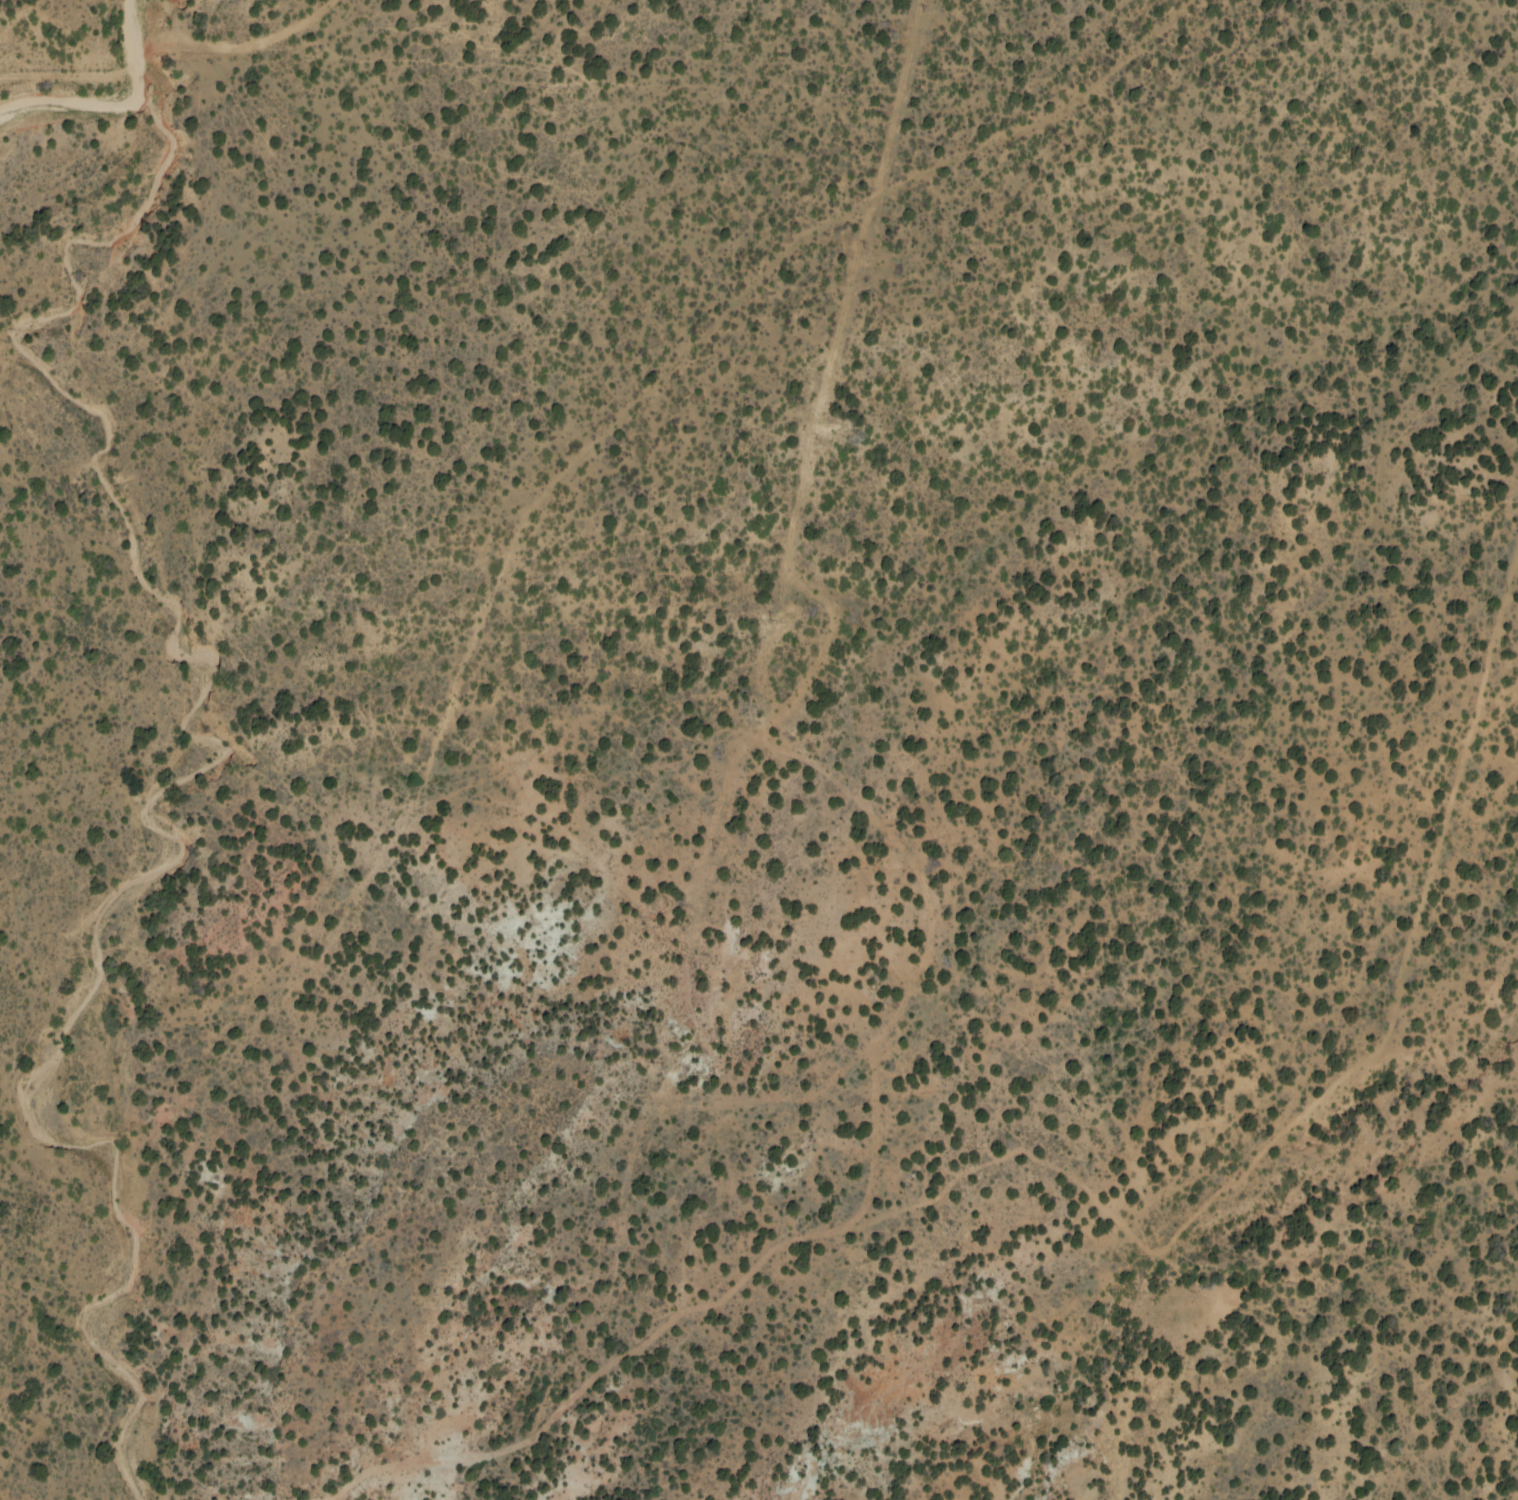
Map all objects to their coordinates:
road: (459, 667)
power tower: (655, 1068)
road: (1104, 1208)

